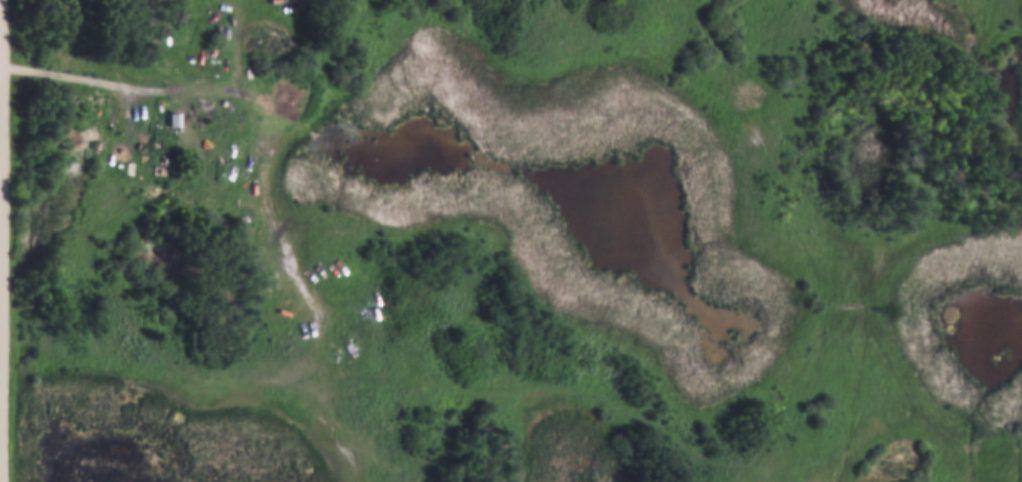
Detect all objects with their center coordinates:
road: (147, 89)
building: (172, 117)
building: (169, 124)
road: (1, 240)

